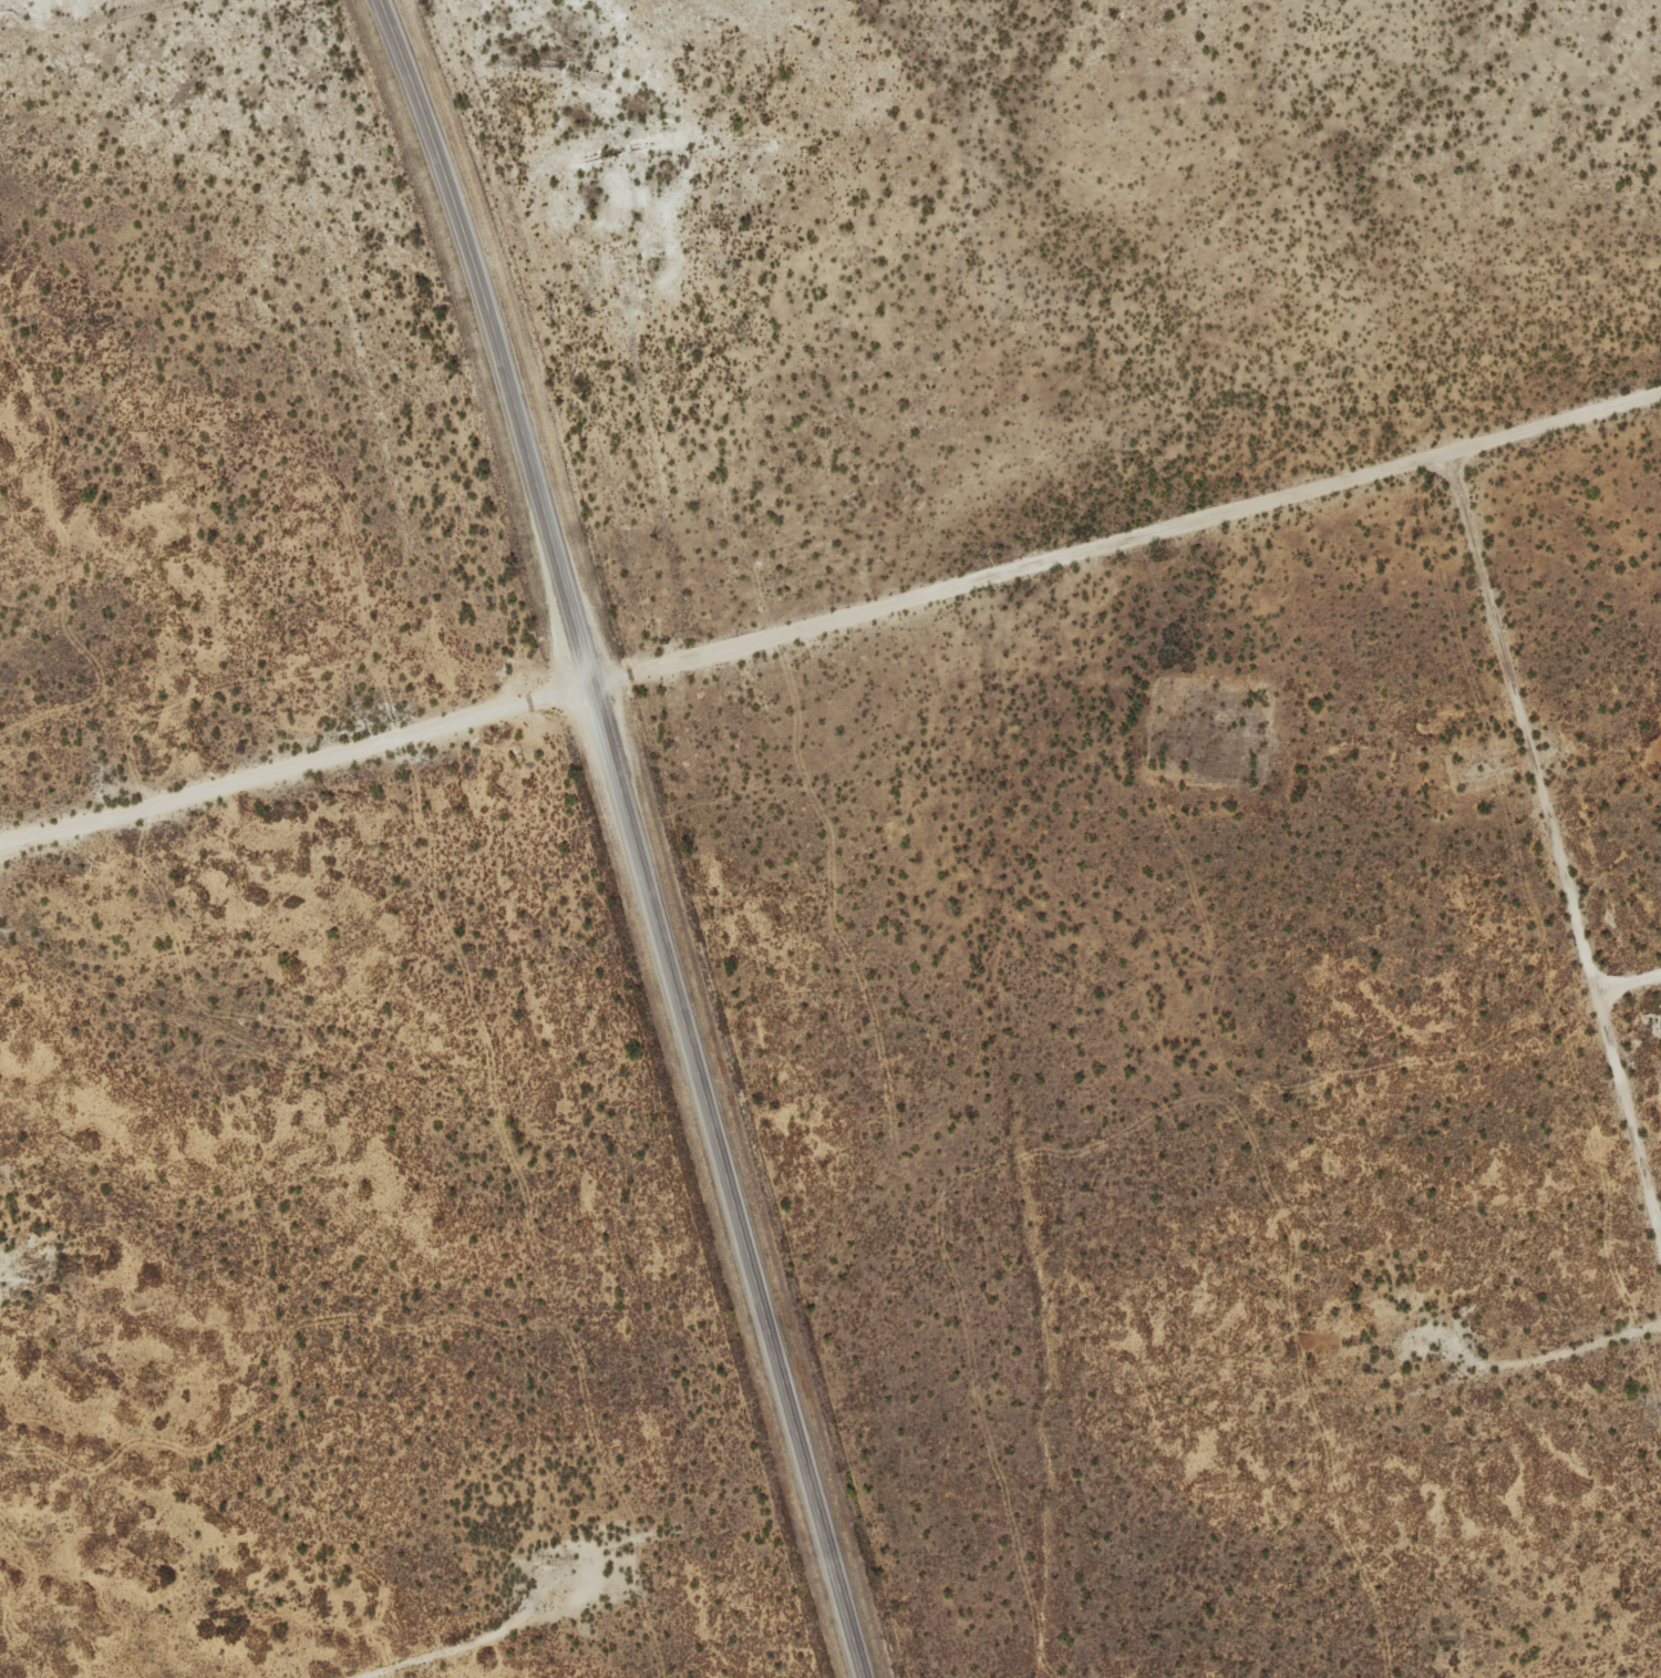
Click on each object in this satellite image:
road: (828, 624)
road: (630, 834)
road: (1556, 846)
road: (481, 1638)

